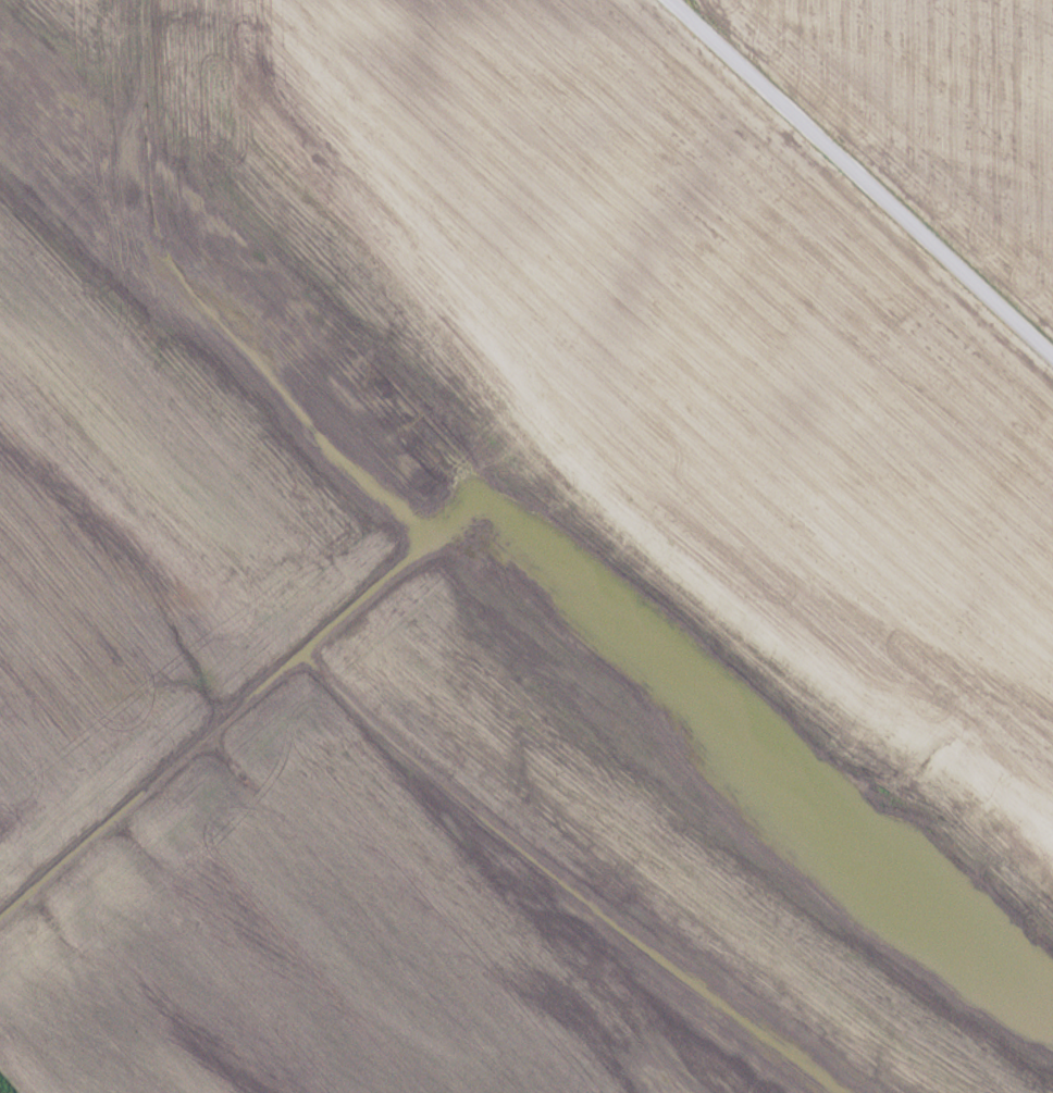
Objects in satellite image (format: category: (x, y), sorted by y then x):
road: (854, 191)

